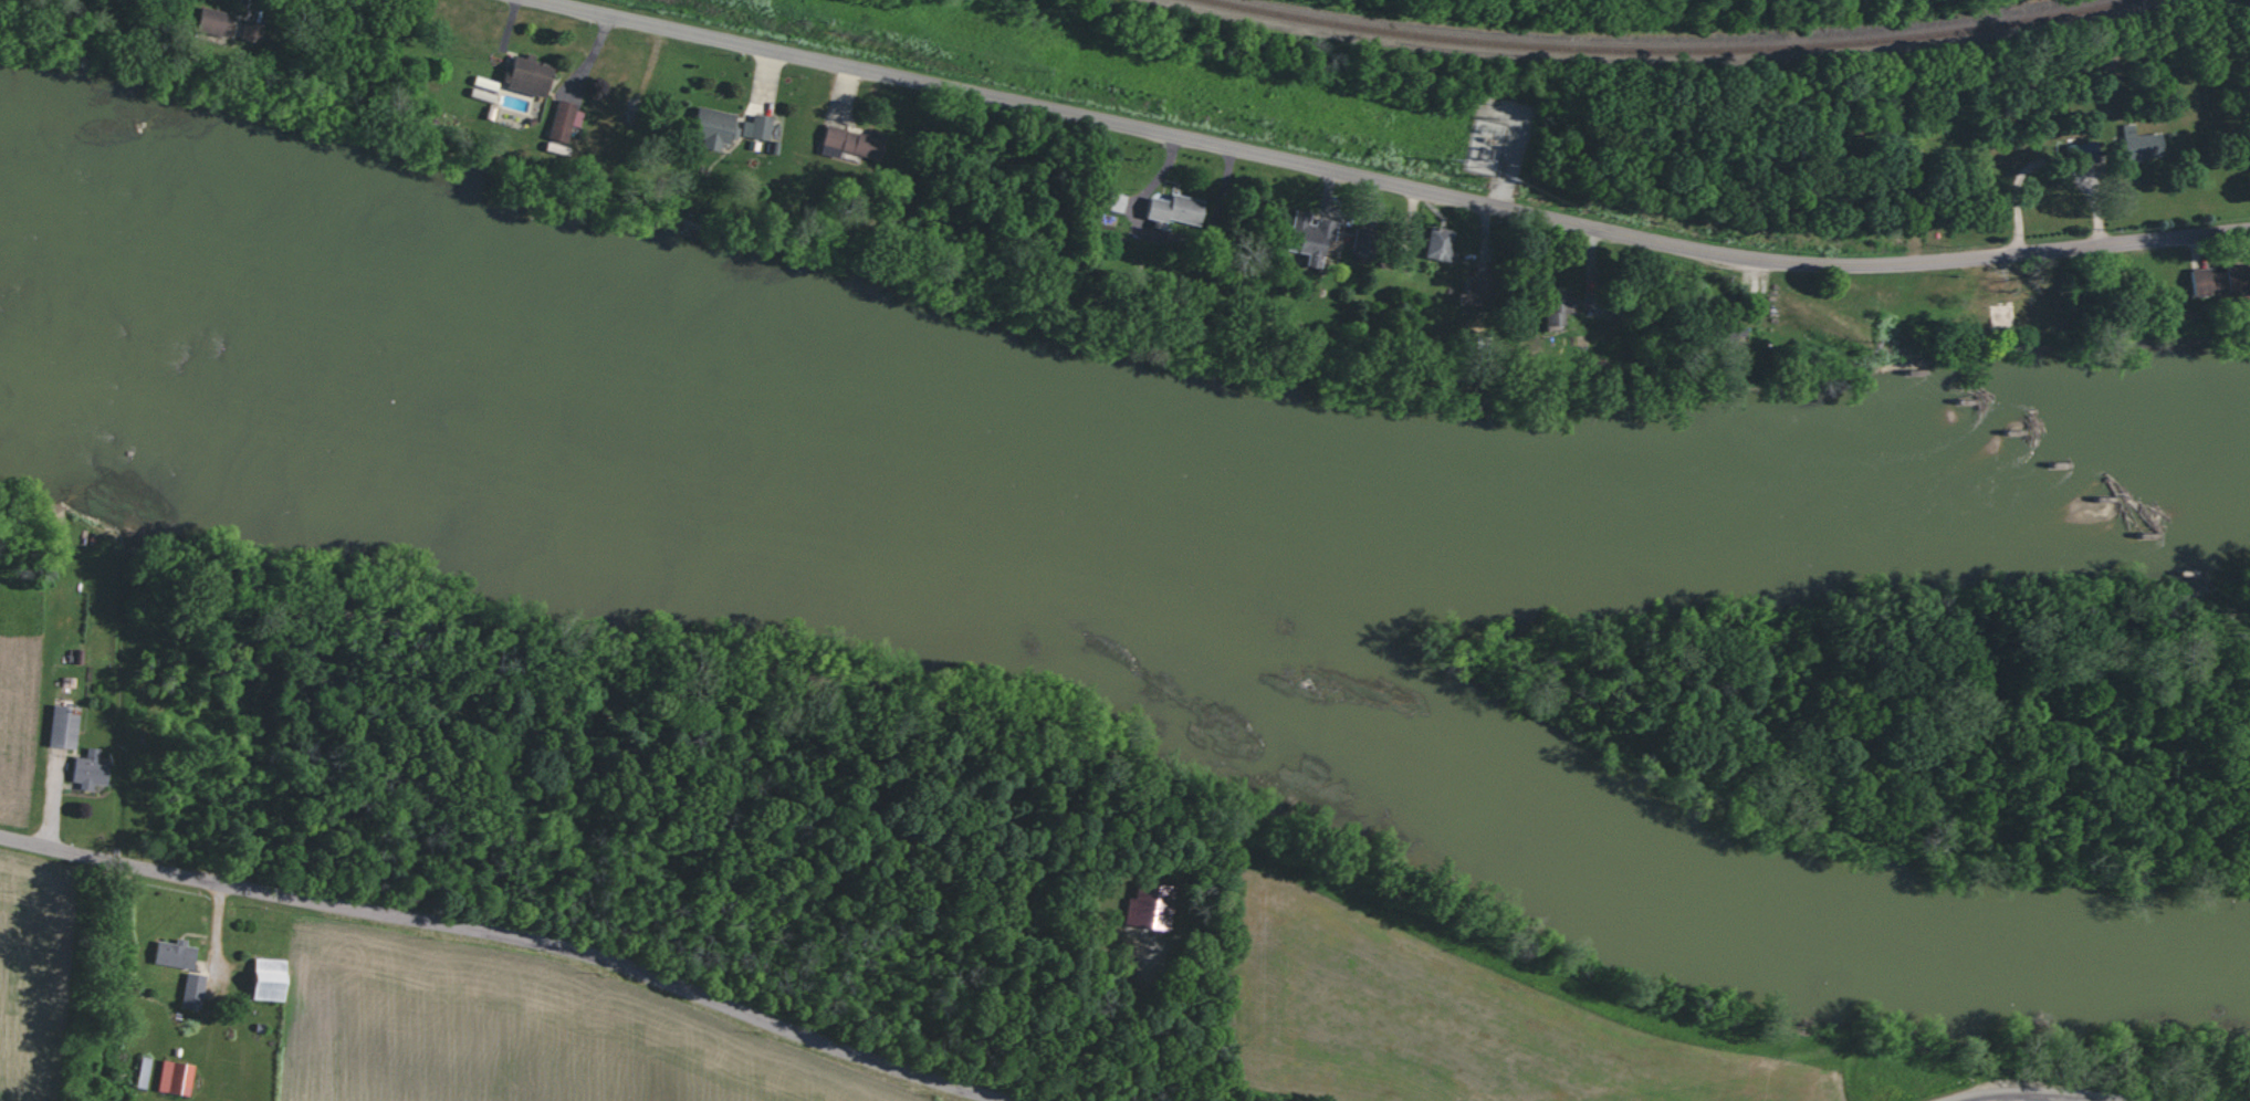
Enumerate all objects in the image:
park: (1422, 6)
building: (223, 21)
railway: (1656, 49)
building: (537, 81)
building: (723, 123)
building: (574, 124)
building: (753, 127)
building: (776, 129)
building: (1493, 141)
building: (860, 143)
building: (2154, 147)
building: (2094, 154)
road: (1351, 186)
building: (1116, 207)
building: (1184, 216)
building: (1319, 237)
building: (1377, 241)
building: (1432, 244)
building: (1451, 244)
building: (2226, 285)
building: (1493, 300)
building: (1550, 307)
building: (1570, 311)
building: (2167, 313)
building: (1723, 338)
river: (1772, 523)
river: (1182, 524)
building: (65, 726)
building: (93, 768)
building: (1144, 908)
road: (524, 929)
building: (178, 953)
building: (274, 978)
building: (195, 989)
building: (145, 1072)
building: (178, 1077)
road: (2038, 1092)

